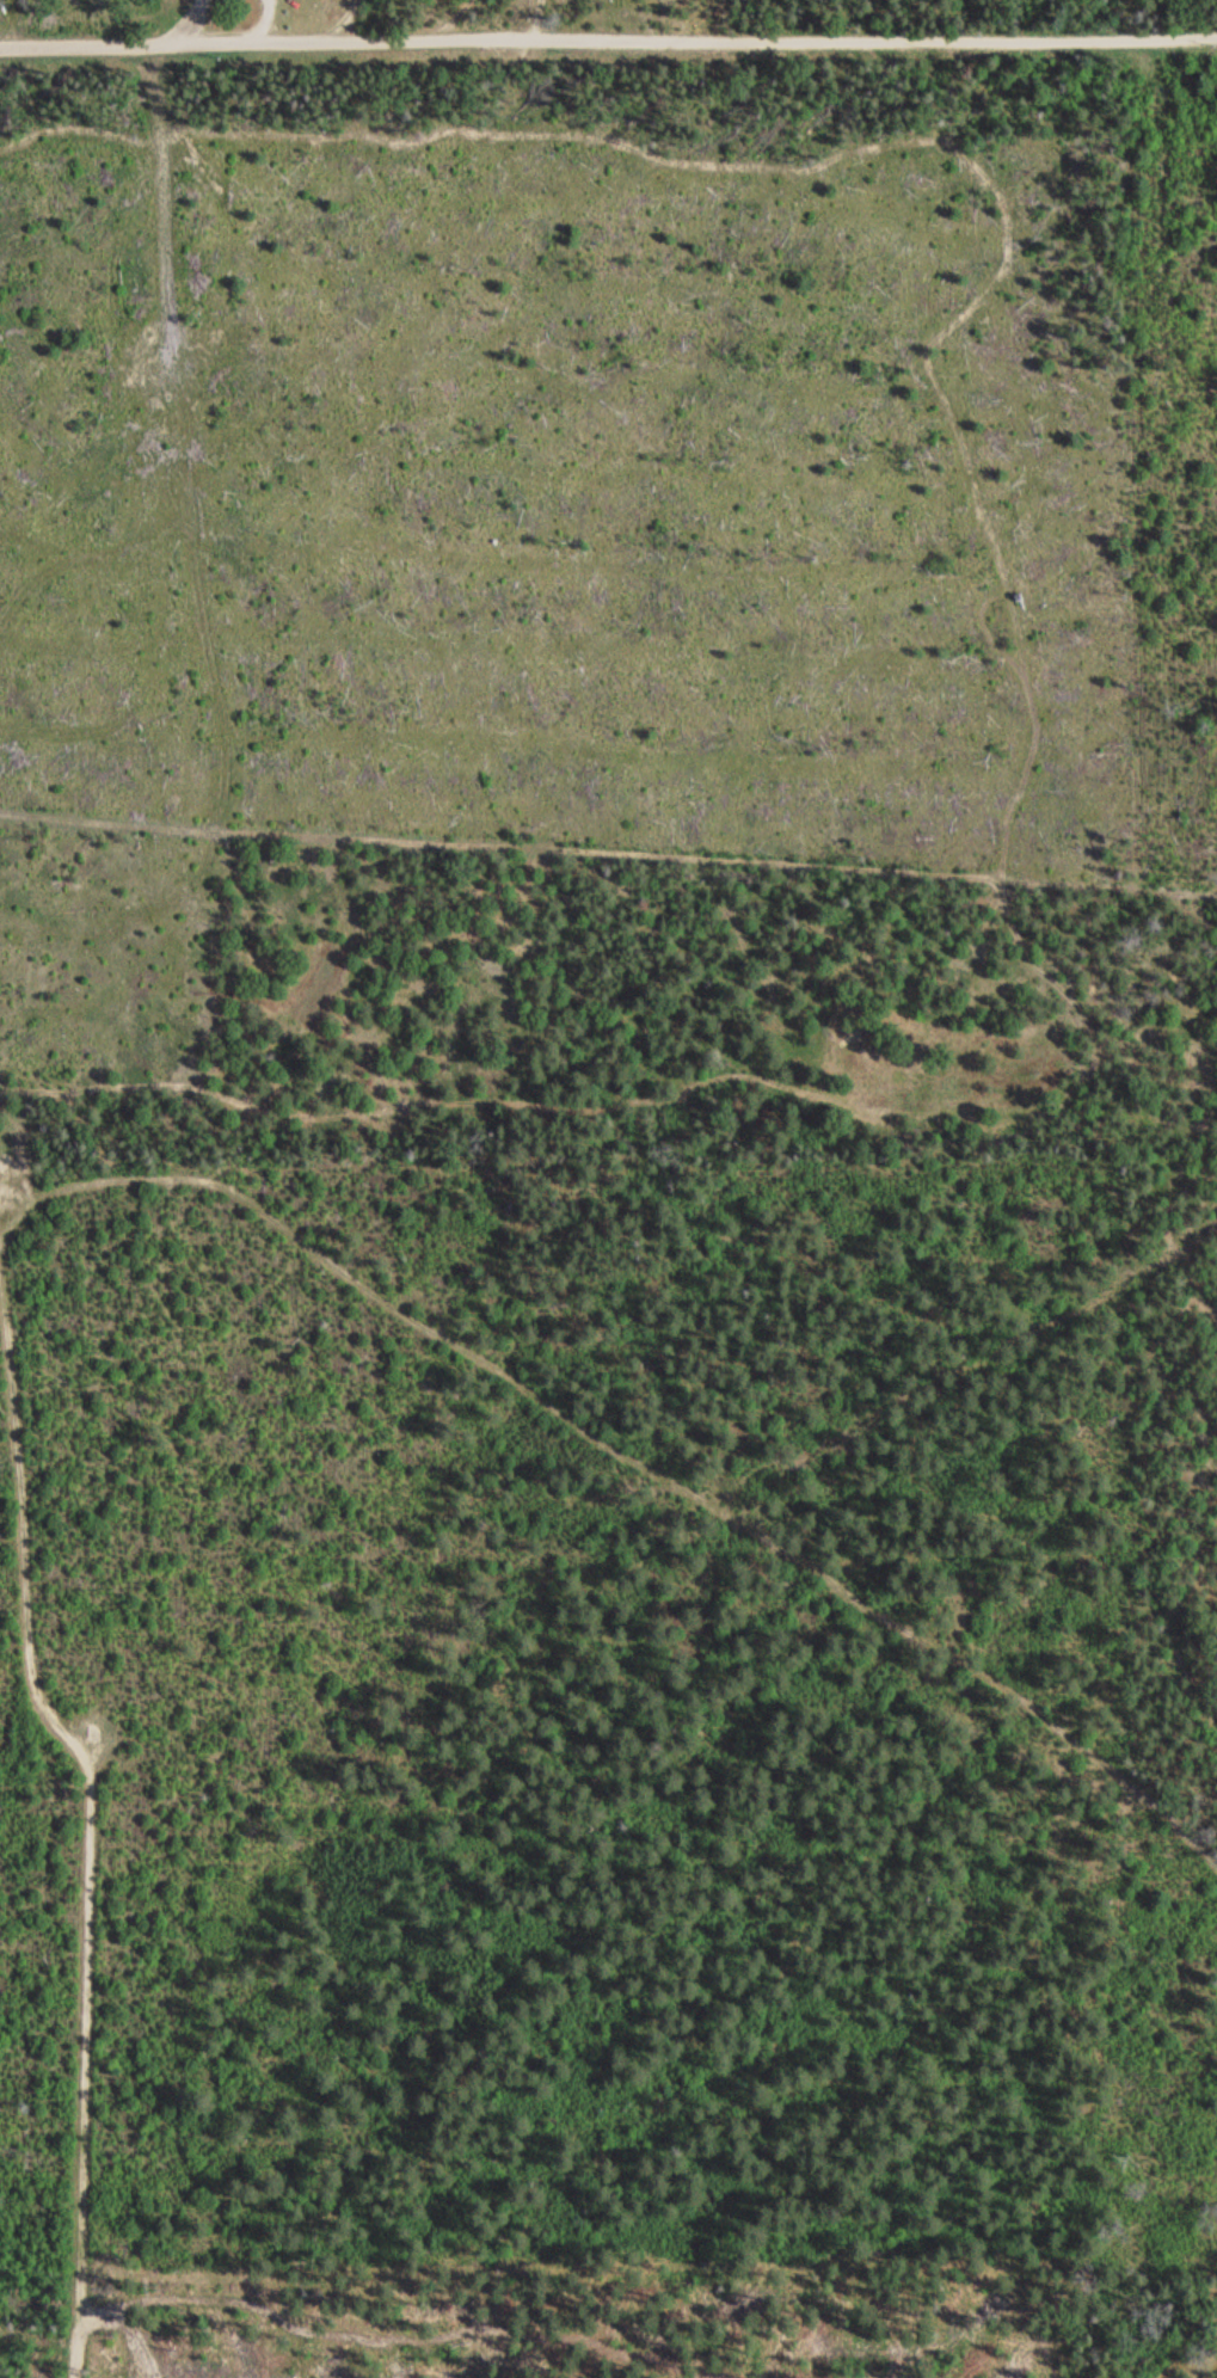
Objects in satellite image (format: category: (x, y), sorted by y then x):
road: (608, 39)
road: (608, 858)
road: (677, 1151)
road: (91, 1826)

